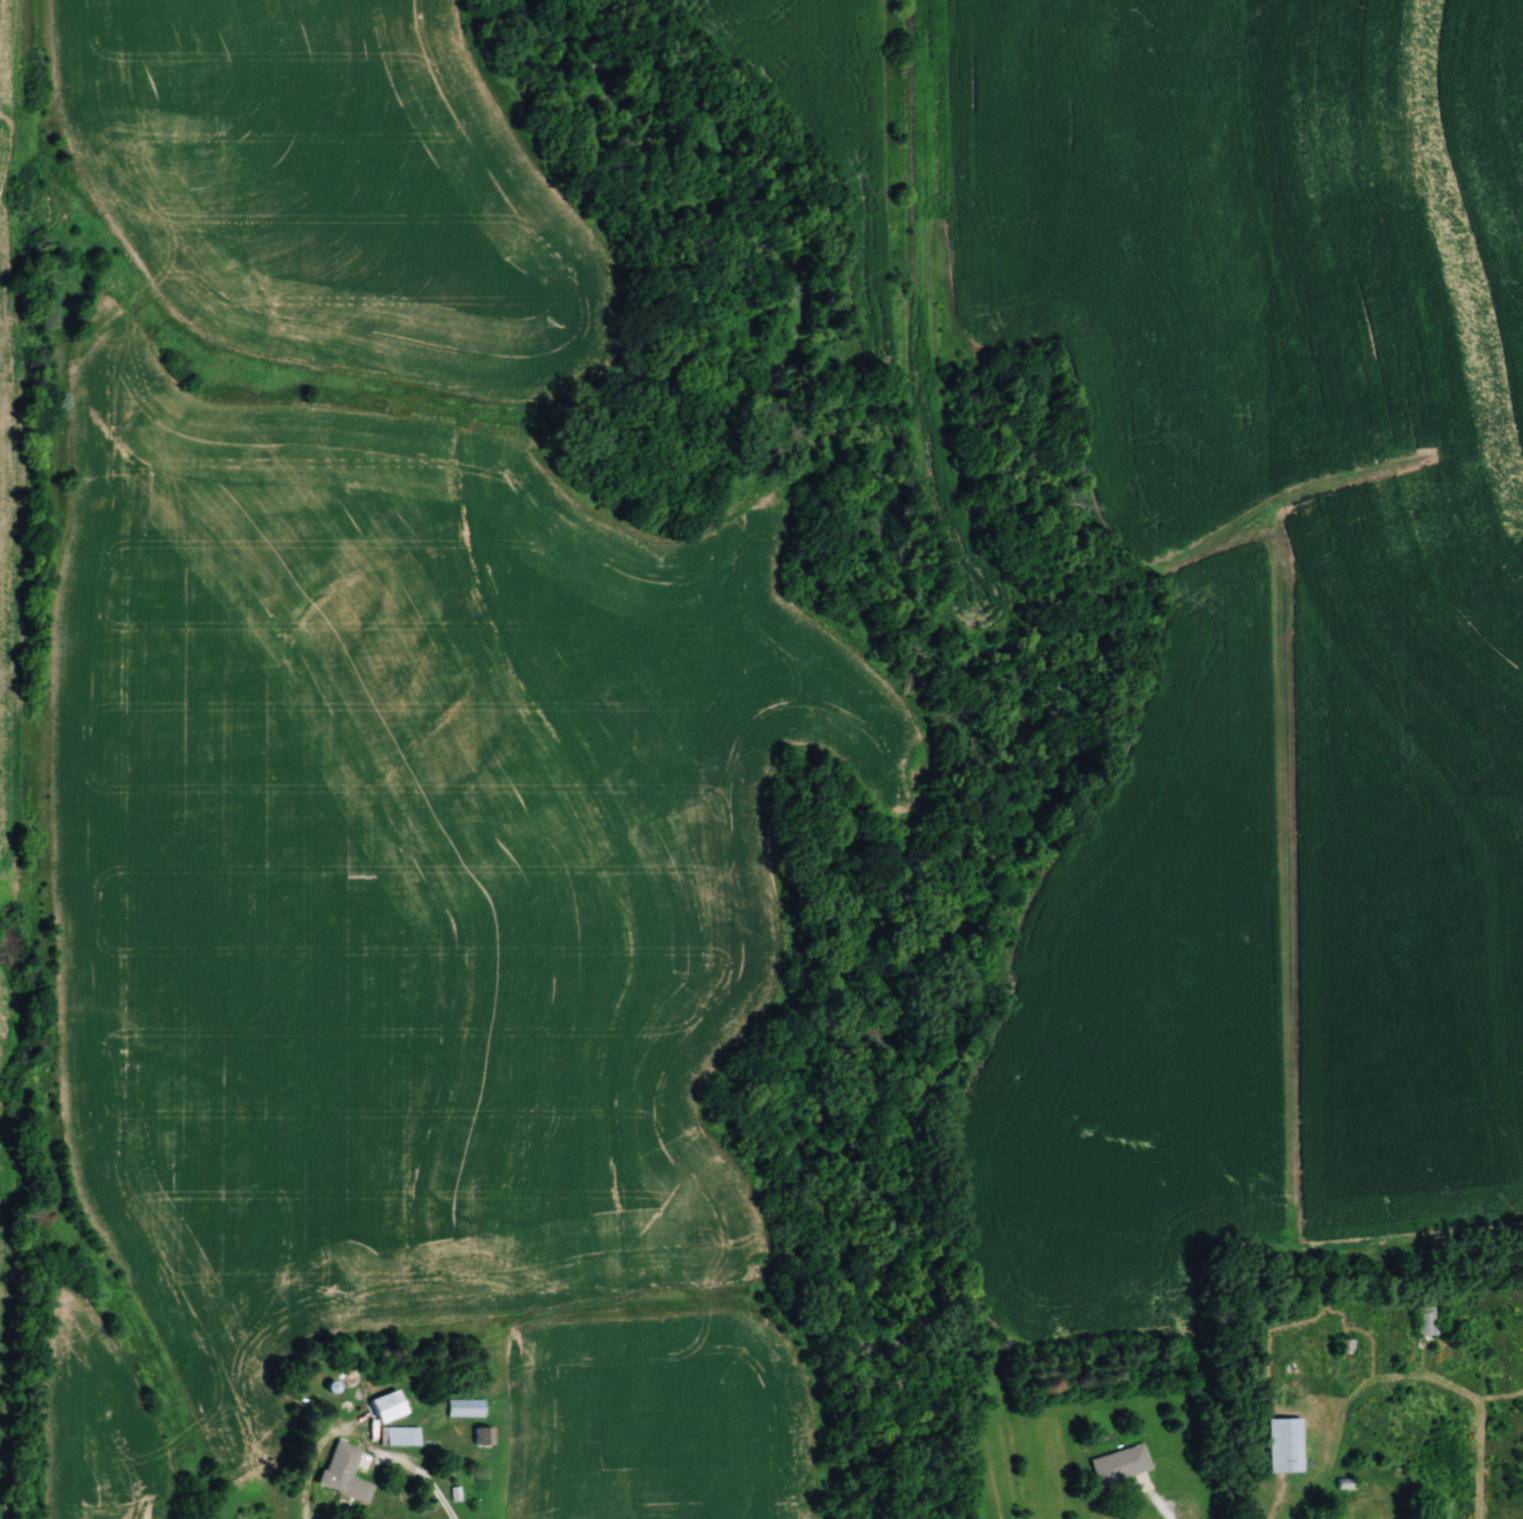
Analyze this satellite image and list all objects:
building: (1422, 1321)
building: (381, 1407)
building: (460, 1409)
building: (395, 1437)
building: (477, 1438)
building: (1278, 1446)
road: (315, 1457)
building: (1115, 1465)
building: (339, 1473)
road: (426, 1477)
road: (1158, 1502)

